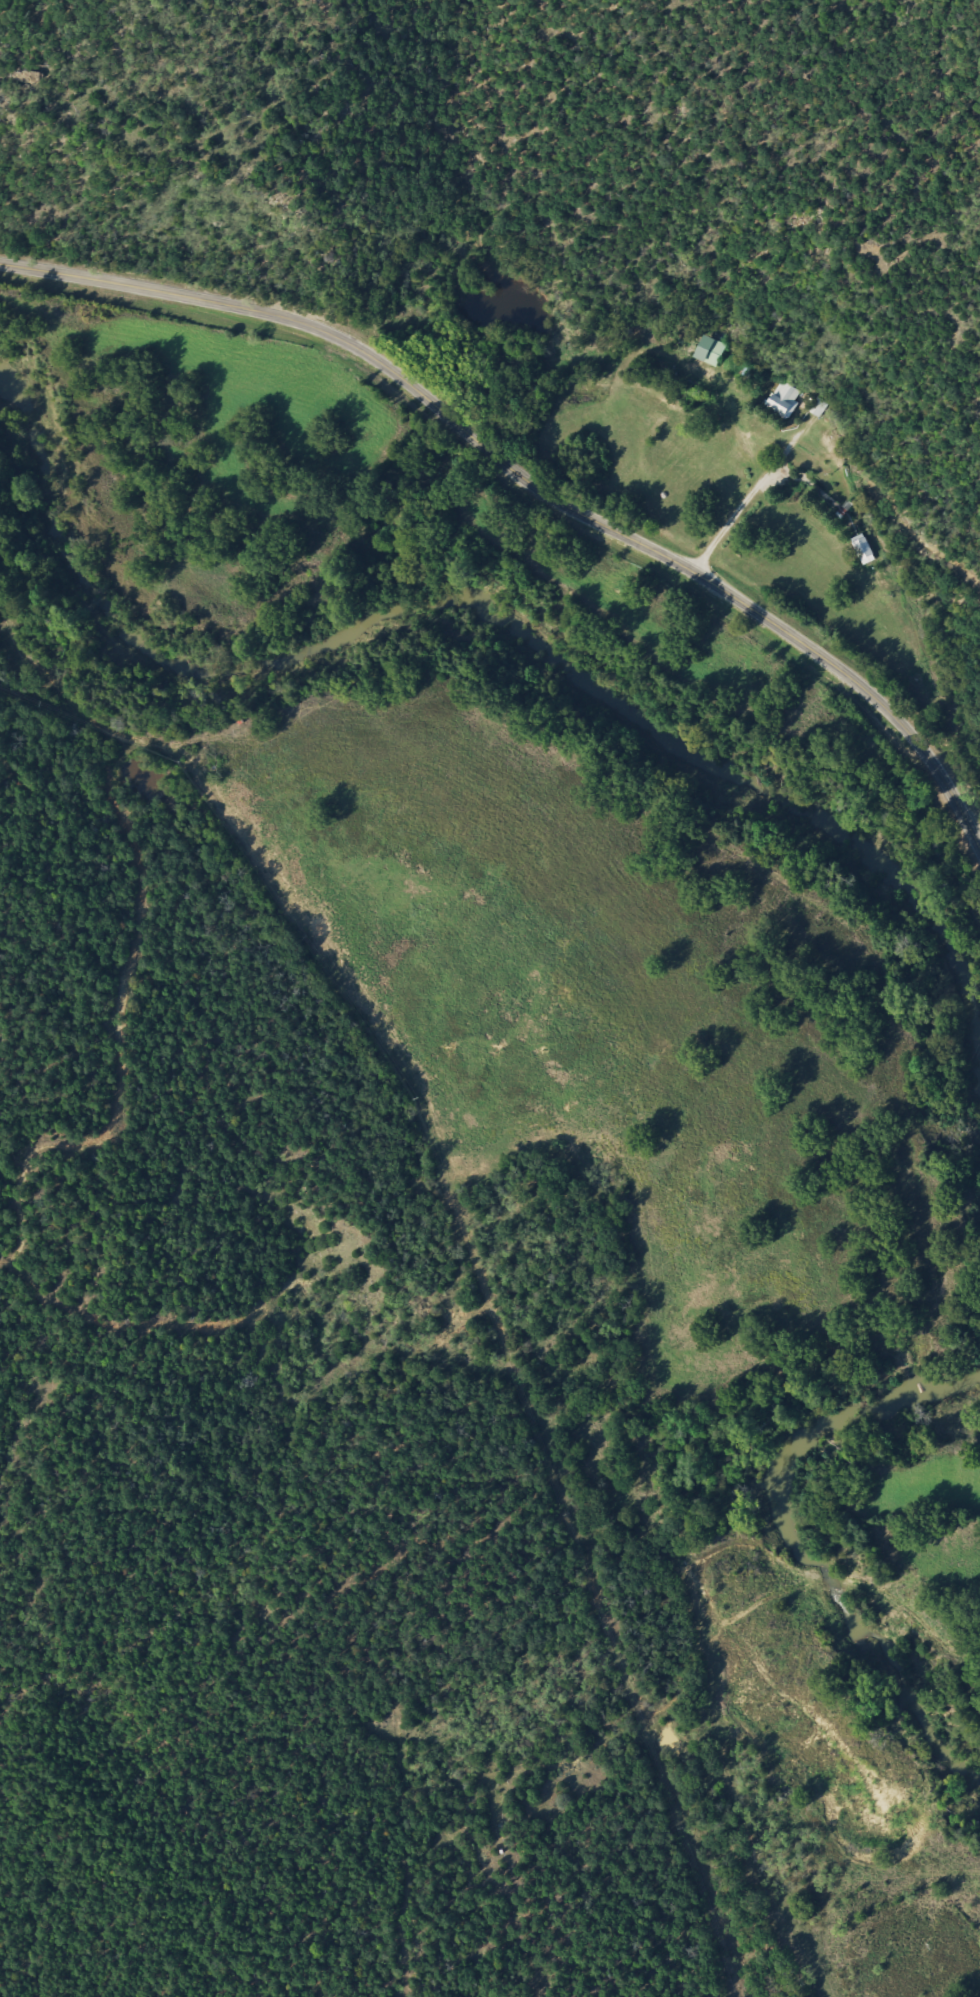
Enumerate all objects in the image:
building: (712, 353)
building: (780, 400)
road: (528, 486)
road: (742, 503)
building: (860, 549)
road: (503, 1263)

